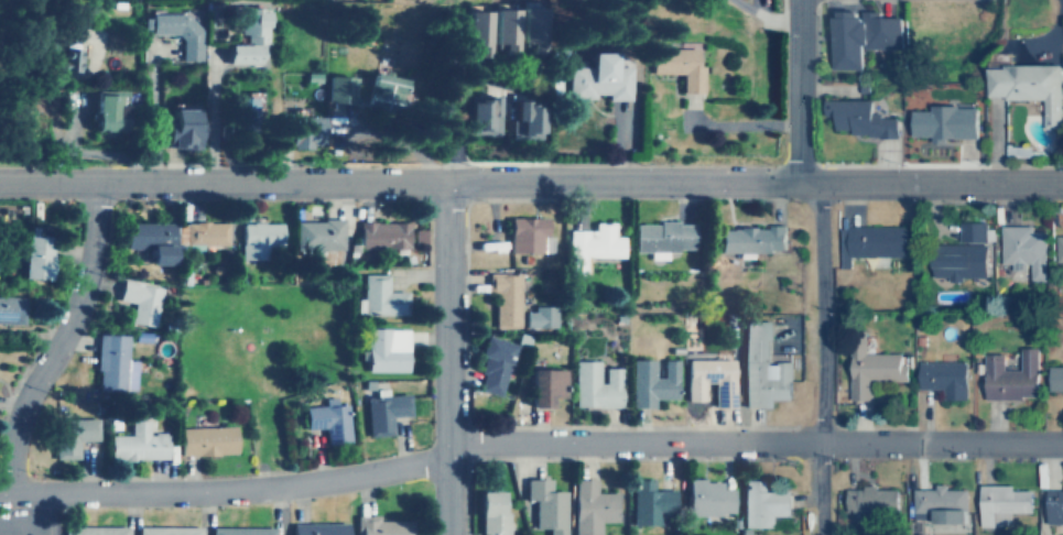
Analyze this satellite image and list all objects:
building: (531, 28)
building: (502, 29)
building: (175, 30)
building: (475, 32)
building: (241, 35)
building: (857, 36)
building: (66, 59)
building: (673, 65)
building: (592, 78)
building: (336, 87)
building: (379, 88)
building: (1017, 91)
road: (453, 92)
road: (795, 92)
building: (105, 112)
building: (249, 114)
building: (482, 117)
building: (853, 118)
building: (525, 119)
building: (937, 122)
building: (177, 128)
building: (300, 131)
road: (531, 183)
building: (200, 232)
building: (315, 234)
building: (379, 234)
building: (523, 234)
building: (660, 236)
building: (256, 238)
building: (149, 239)
building: (747, 239)
building: (868, 243)
building: (590, 244)
building: (1019, 248)
building: (1056, 248)
building: (956, 254)
building: (31, 256)
building: (378, 296)
building: (502, 298)
building: (138, 301)
building: (9, 308)
building: (538, 316)
road: (58, 339)
building: (383, 349)
park: (259, 351)
road: (446, 359)
road: (820, 359)
building: (108, 361)
building: (491, 364)
building: (758, 367)
building: (870, 370)
building: (1007, 375)
building: (940, 376)
building: (1053, 378)
building: (650, 380)
building: (708, 380)
building: (594, 383)
building: (544, 386)
building: (382, 412)
building: (325, 419)
building: (69, 436)
building: (204, 440)
building: (134, 444)
road: (527, 444)
building: (708, 496)
building: (868, 499)
building: (999, 503)
building: (650, 504)
building: (936, 504)
building: (544, 505)
building: (761, 505)
building: (1052, 506)
building: (590, 507)
building: (491, 512)
road: (51, 513)
road: (25, 520)
building: (381, 527)
building: (316, 529)
building: (91, 531)
building: (166, 531)
building: (240, 532)

